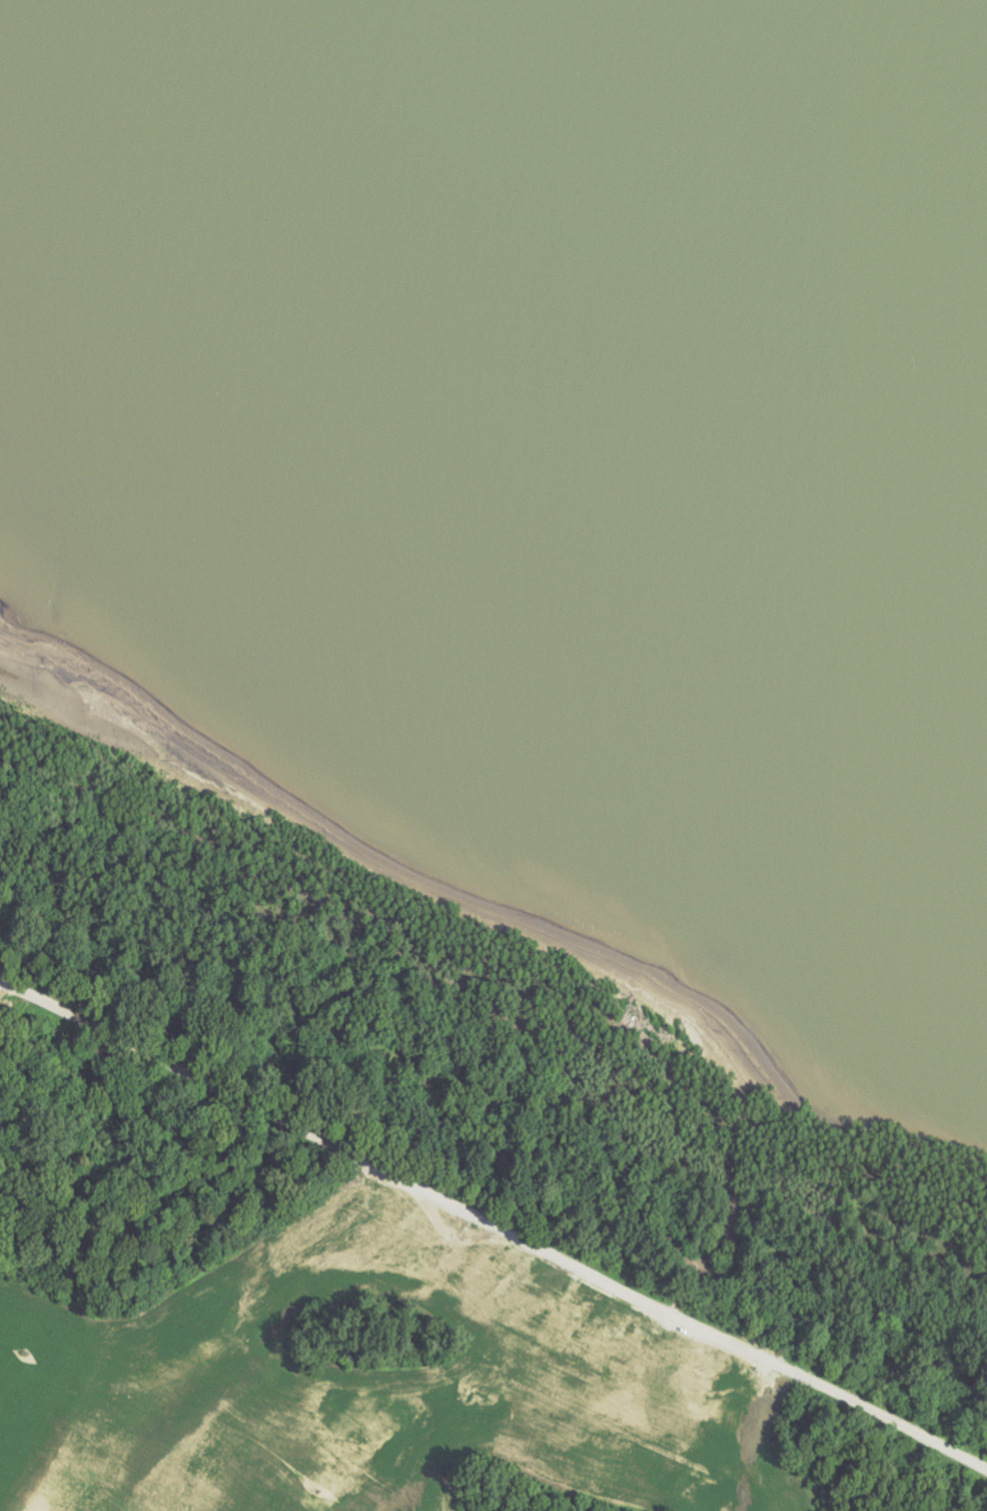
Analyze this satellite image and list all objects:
river: (643, 175)
road: (494, 1223)

